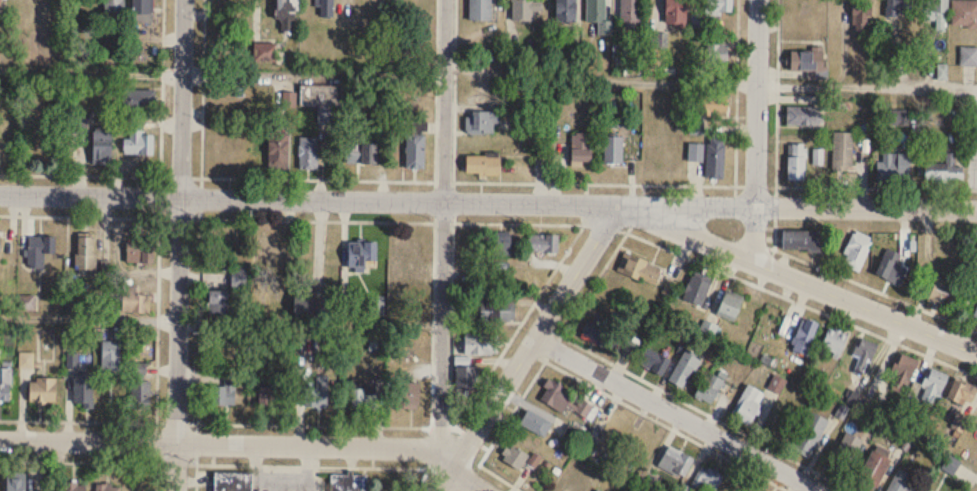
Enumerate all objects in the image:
building: (0, 6)
building: (718, 7)
building: (324, 8)
building: (899, 8)
building: (142, 9)
building: (480, 10)
building: (525, 10)
building: (113, 11)
building: (565, 11)
building: (675, 13)
building: (630, 14)
building: (937, 14)
building: (964, 14)
building: (286, 16)
building: (597, 18)
building: (860, 20)
building: (658, 41)
building: (264, 53)
building: (711, 57)
building: (968, 57)
building: (806, 59)
road: (91, 70)
road: (314, 76)
road: (600, 81)
road: (866, 86)
road: (776, 92)
building: (321, 94)
building: (138, 100)
building: (711, 104)
building: (325, 115)
building: (803, 116)
building: (899, 118)
building: (481, 123)
road: (755, 130)
building: (138, 142)
building: (101, 148)
building: (278, 150)
building: (360, 150)
building: (580, 150)
building: (613, 150)
building: (414, 151)
building: (696, 152)
building: (843, 152)
building: (308, 153)
building: (715, 157)
building: (796, 162)
building: (481, 165)
building: (893, 168)
building: (943, 173)
road: (488, 201)
road: (199, 210)
road: (774, 212)
road: (541, 222)
road: (441, 223)
building: (802, 240)
building: (500, 242)
building: (543, 242)
road: (178, 245)
building: (39, 250)
building: (270, 250)
road: (674, 250)
building: (856, 250)
building: (139, 251)
building: (409, 253)
building: (85, 254)
building: (361, 254)
building: (891, 265)
building: (640, 269)
building: (239, 277)
road: (799, 278)
building: (670, 287)
building: (696, 290)
building: (942, 293)
building: (302, 299)
building: (134, 300)
building: (221, 303)
building: (375, 306)
building: (729, 306)
building: (500, 311)
building: (975, 315)
road: (88, 318)
building: (708, 329)
building: (597, 332)
building: (804, 336)
building: (834, 341)
building: (376, 344)
building: (480, 344)
road: (528, 348)
building: (630, 349)
building: (864, 353)
building: (110, 355)
building: (653, 361)
building: (139, 369)
building: (904, 369)
building: (684, 370)
building: (467, 377)
building: (5, 384)
building: (777, 384)
building: (931, 386)
building: (42, 390)
building: (84, 390)
building: (961, 393)
building: (141, 394)
building: (317, 394)
building: (365, 394)
building: (222, 395)
building: (407, 395)
building: (556, 395)
building: (273, 398)
building: (748, 405)
building: (584, 409)
road: (677, 414)
road: (97, 420)
building: (537, 425)
building: (809, 434)
road: (252, 443)
building: (967, 451)
building: (845, 454)
building: (514, 457)
building: (534, 460)
building: (675, 462)
building: (707, 480)
building: (232, 481)
building: (901, 481)
building: (348, 482)
building: (577, 484)
building: (15, 485)
building: (74, 487)
building: (107, 487)
building: (598, 490)

